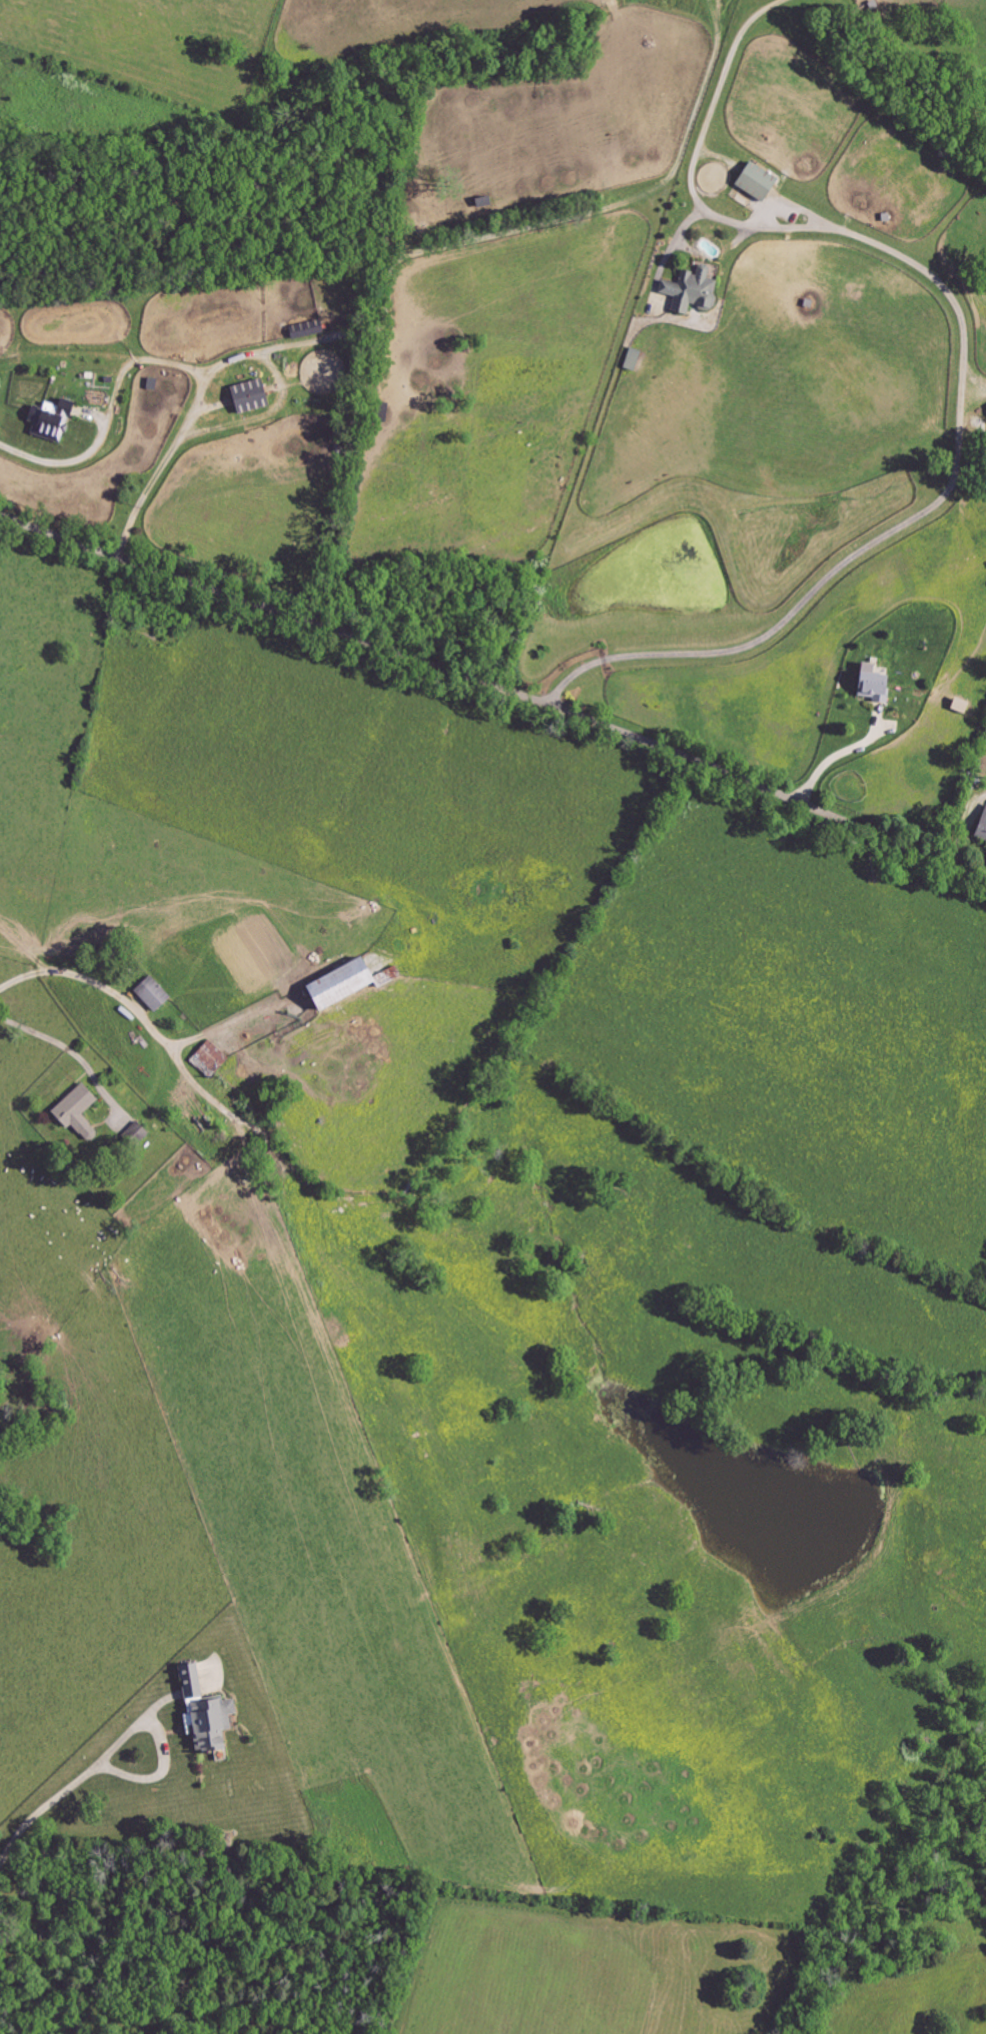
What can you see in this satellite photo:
building: (753, 181)
building: (689, 291)
road: (168, 363)
road: (962, 374)
building: (245, 397)
building: (49, 421)
road: (496, 685)
building: (870, 685)
building: (957, 706)
road: (835, 755)
building: (980, 827)
building: (333, 984)
building: (150, 993)
road: (146, 1018)
road: (51, 1040)
building: (209, 1056)
building: (74, 1112)
building: (133, 1134)
building: (201, 1713)
road: (163, 1745)
road: (44, 1810)

